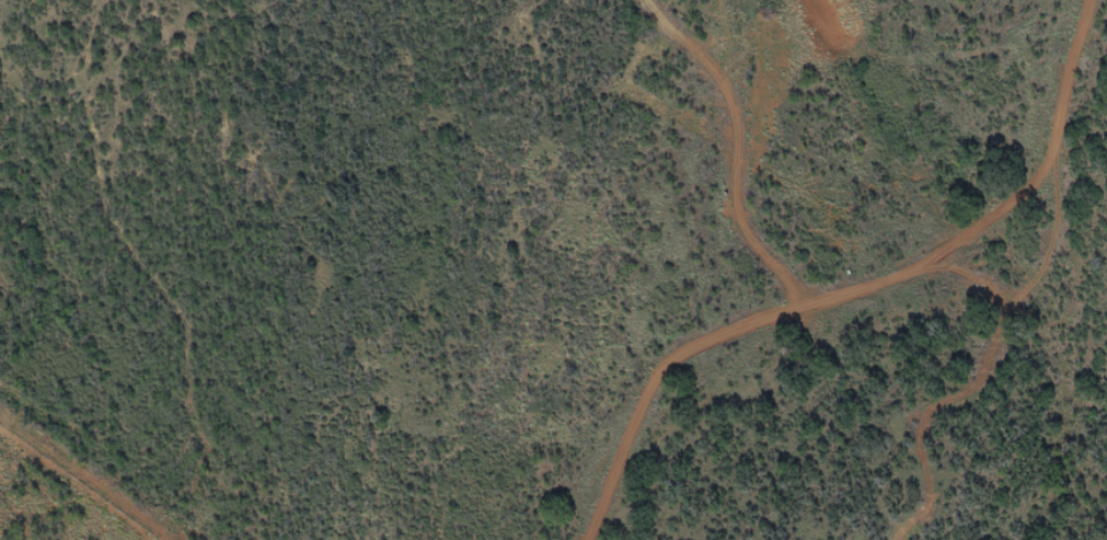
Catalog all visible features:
road: (810, 251)

